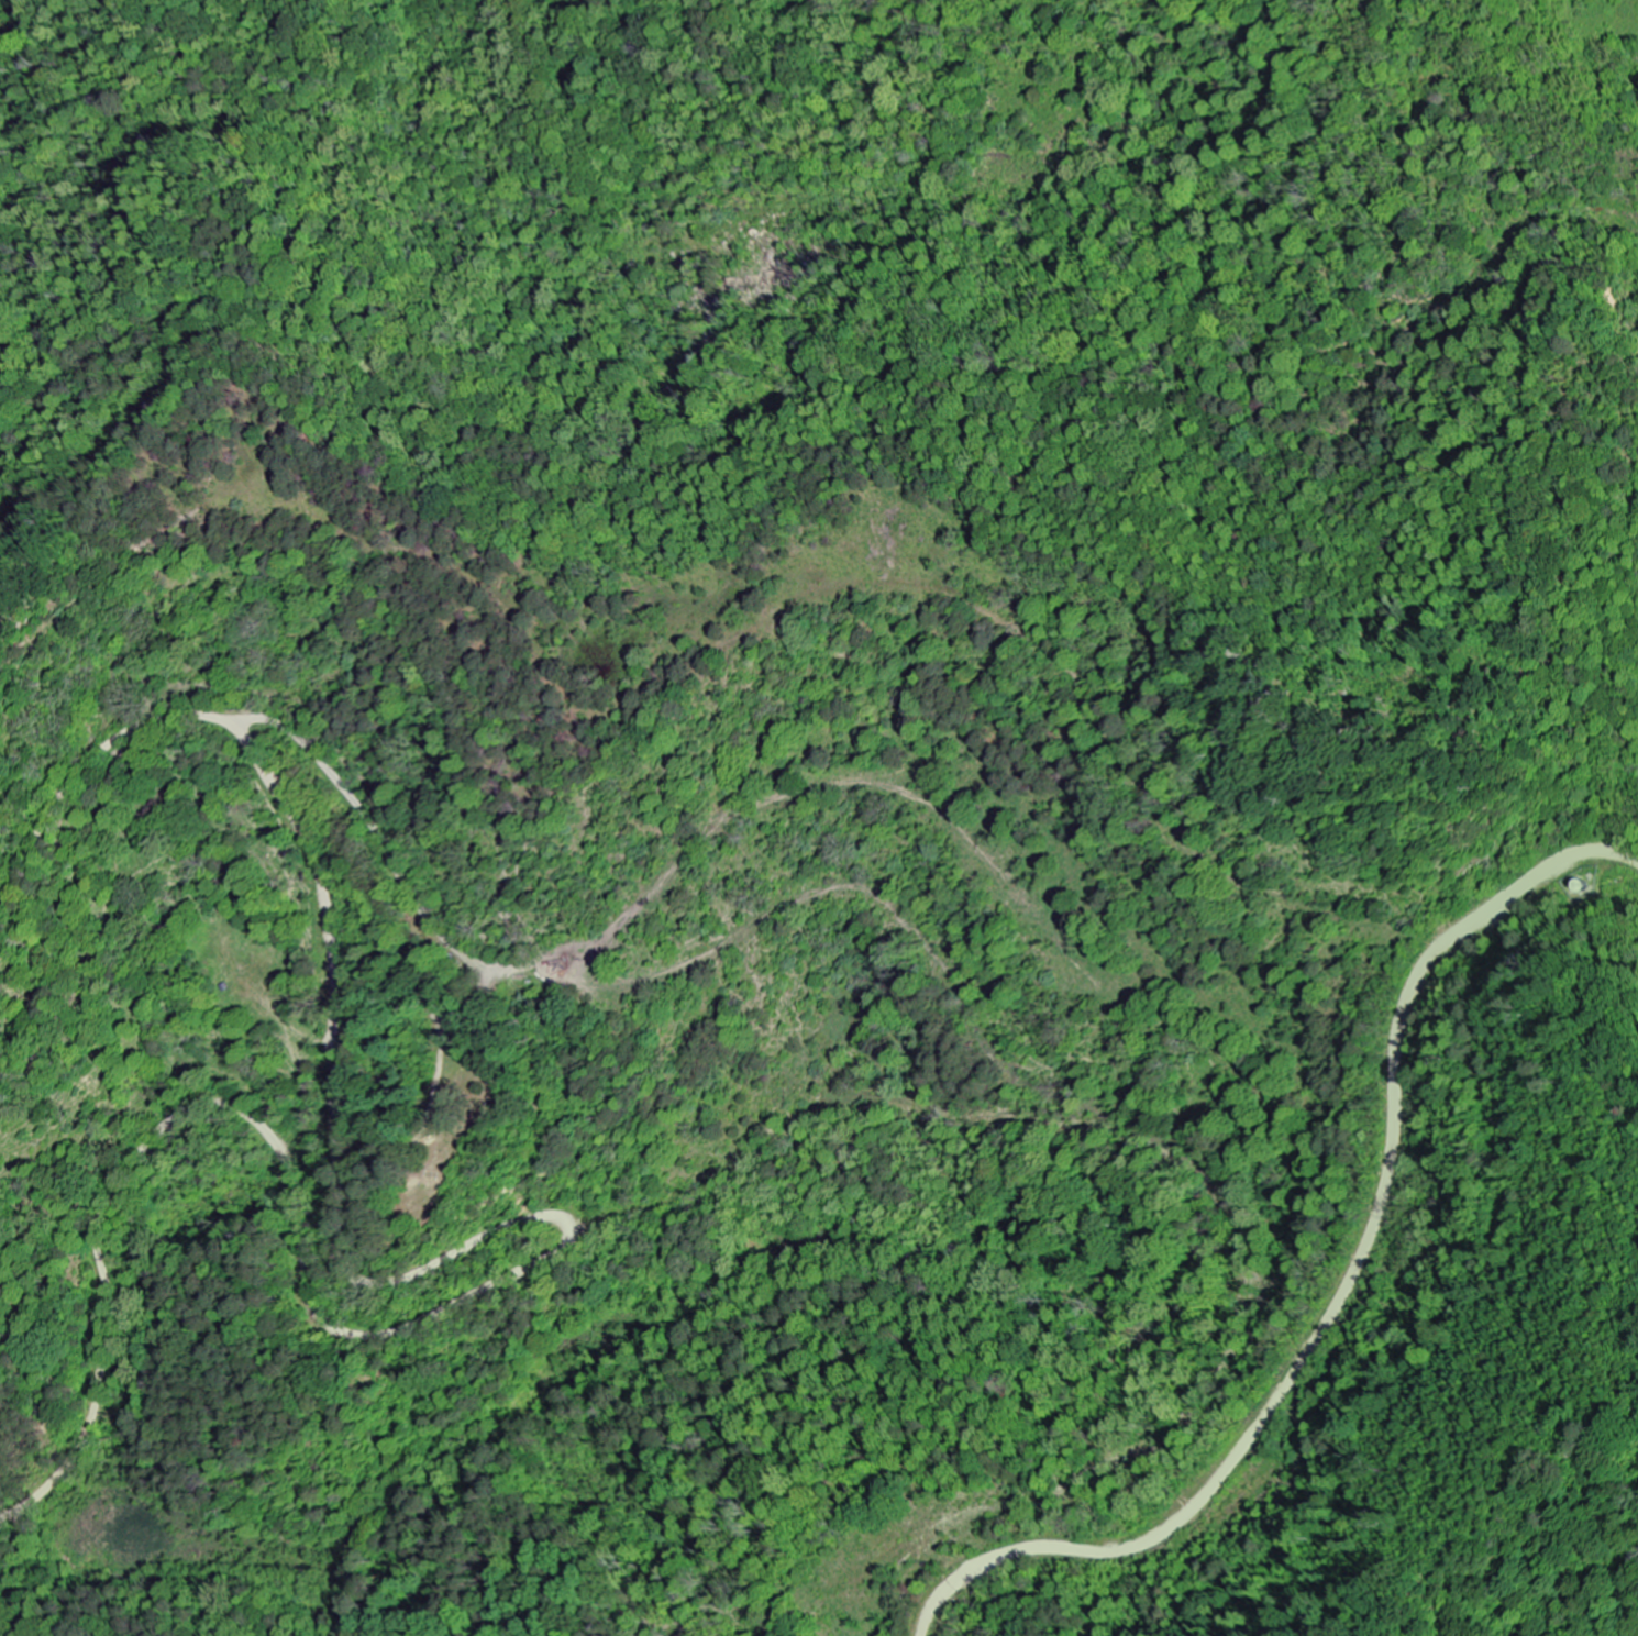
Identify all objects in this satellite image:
road: (524, 1219)

